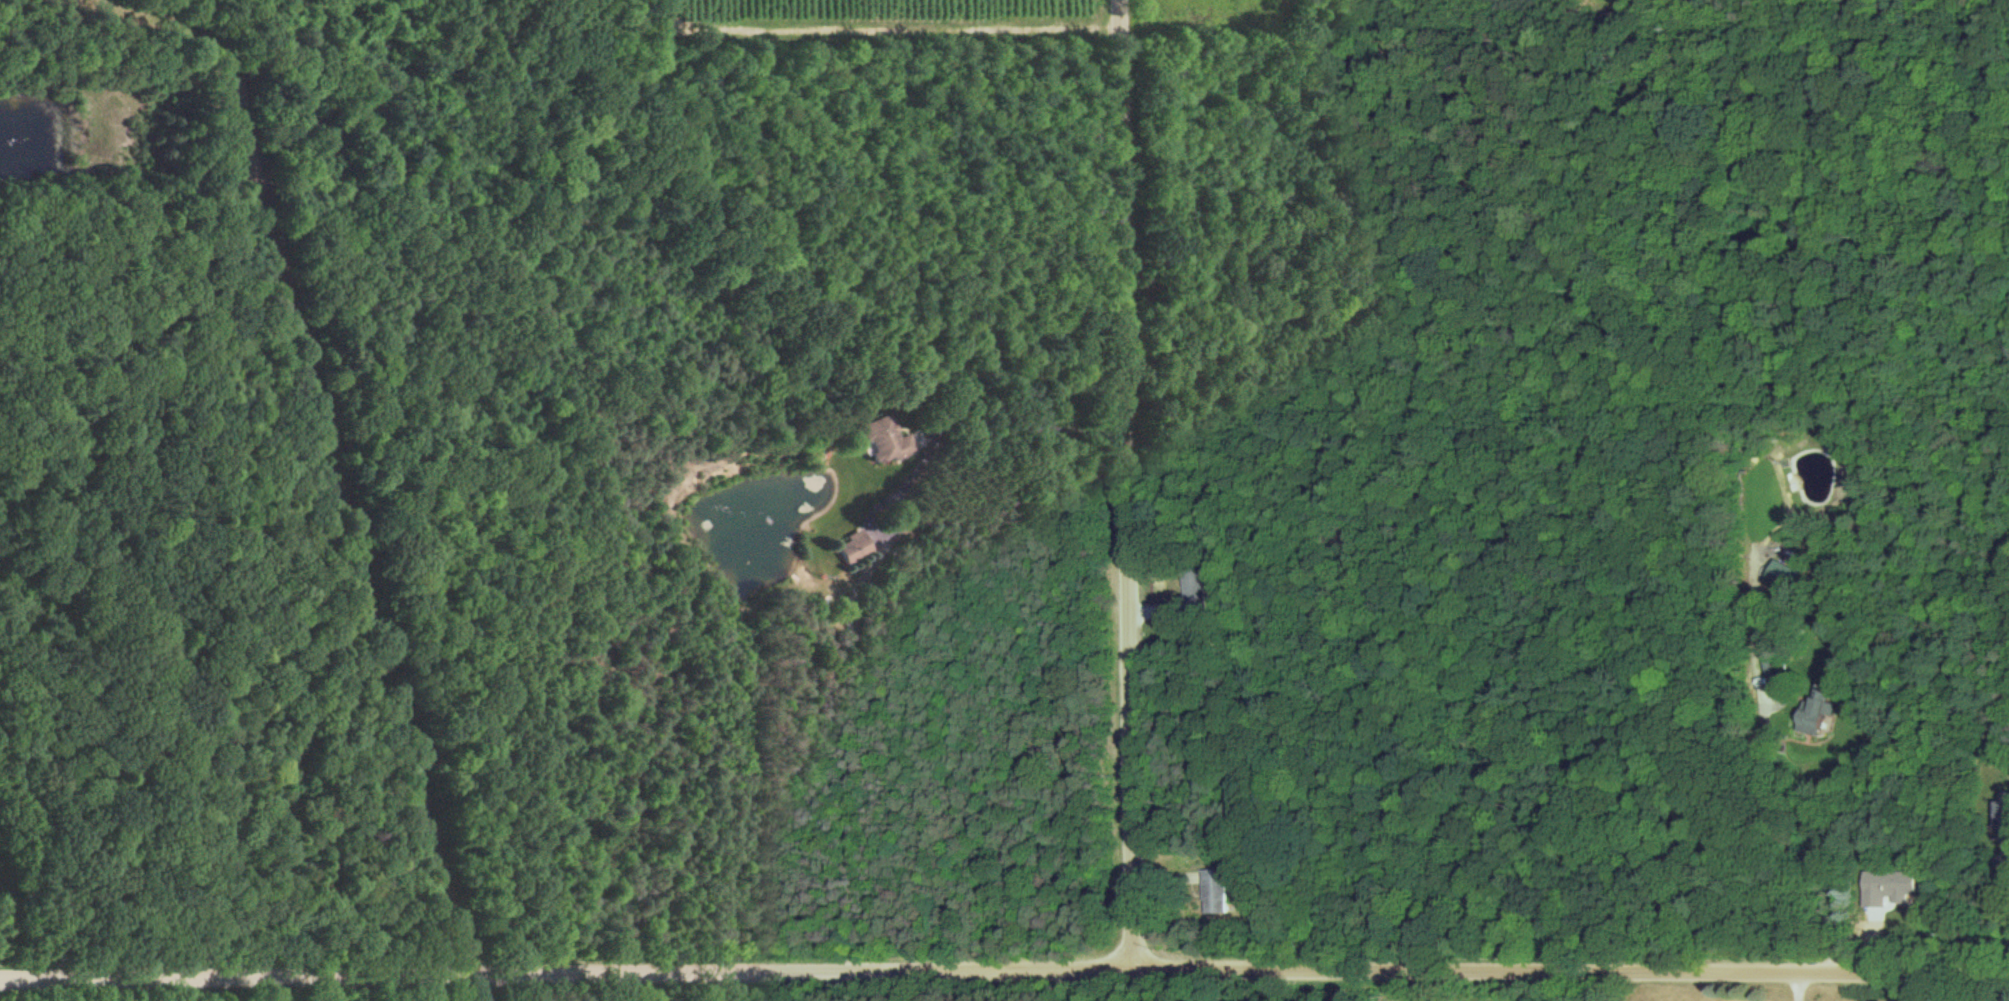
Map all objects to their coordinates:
road: (1021, 421)
building: (885, 441)
road: (1121, 486)
building: (855, 547)
building: (1779, 574)
building: (1815, 711)
road: (850, 782)
building: (2001, 815)
road: (1786, 846)
road: (2003, 885)
building: (1887, 887)
building: (1215, 891)
road: (1004, 973)
road: (1798, 988)

